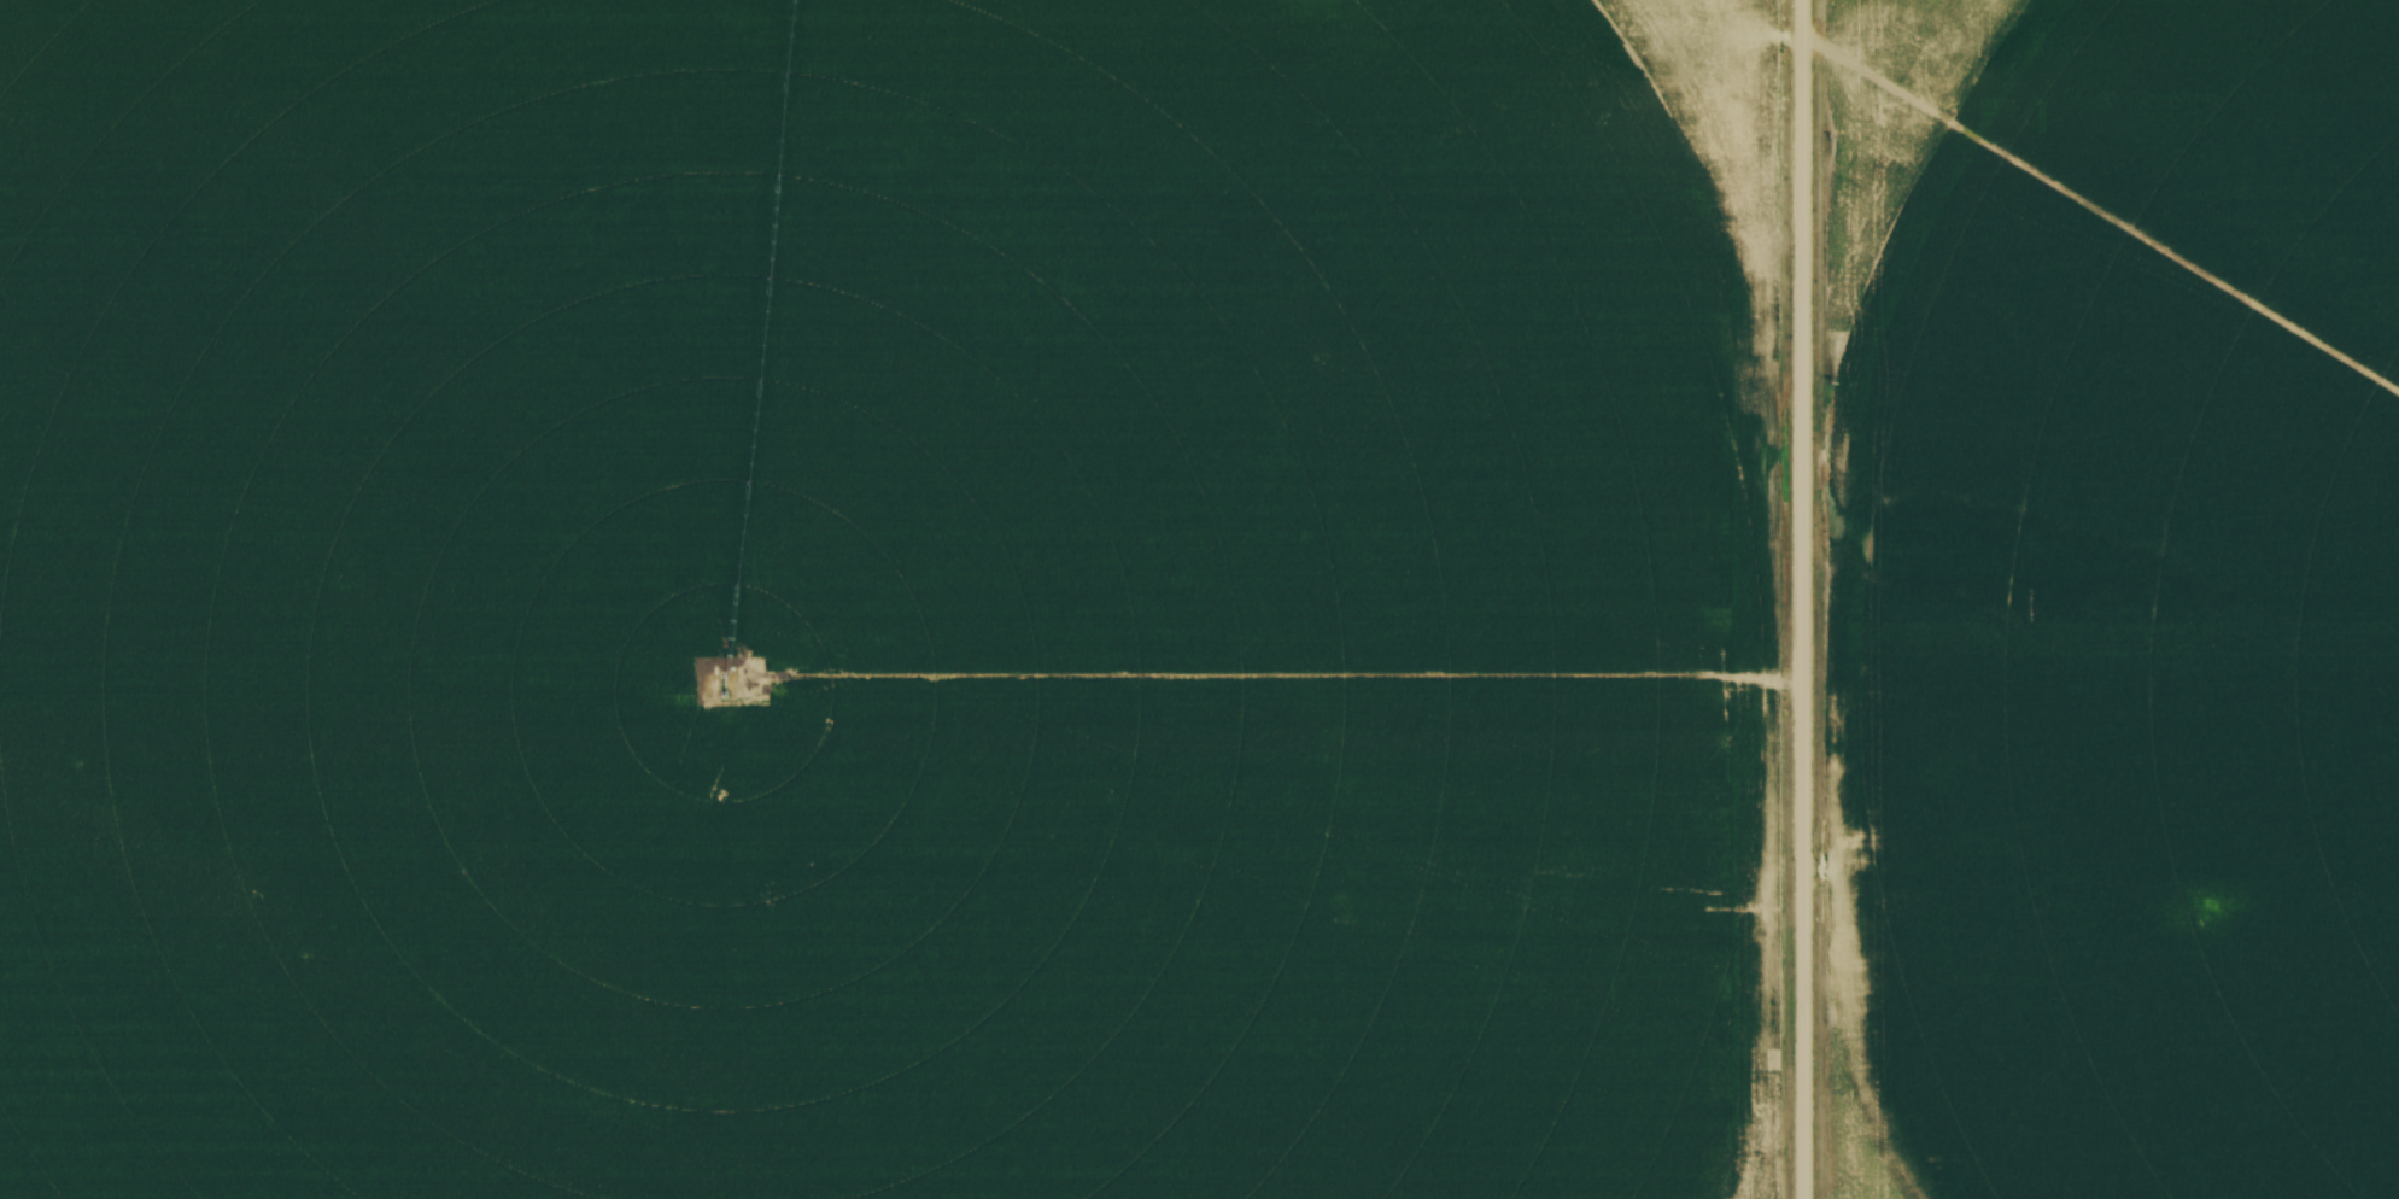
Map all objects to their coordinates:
crop: (891, 598)
road: (1806, 599)

